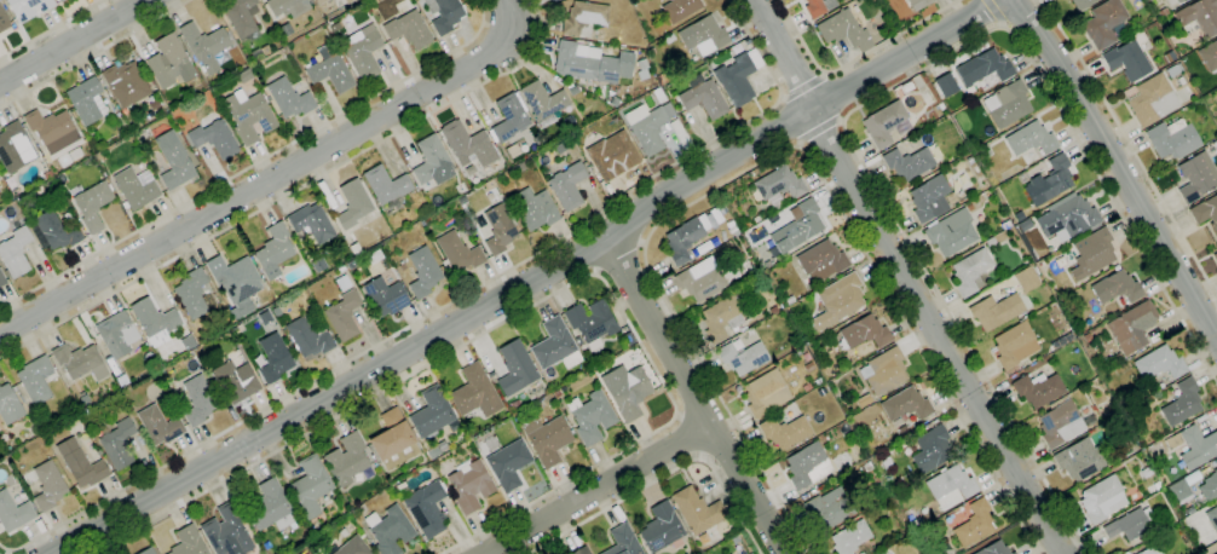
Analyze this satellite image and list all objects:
building: (58, 0)
building: (60, 0)
building: (319, 1)
building: (348, 1)
building: (1173, 1)
building: (918, 4)
building: (1080, 4)
building: (28, 7)
building: (288, 7)
building: (818, 7)
building: (680, 8)
road: (993, 12)
building: (1161, 12)
building: (444, 15)
building: (1155, 17)
building: (1198, 17)
building: (242, 18)
building: (584, 18)
building: (2, 19)
building: (1104, 23)
road: (51, 28)
building: (408, 29)
building: (843, 29)
building: (703, 35)
building: (669, 39)
road: (79, 42)
building: (204, 45)
building: (266, 50)
building: (651, 51)
building: (363, 52)
road: (94, 53)
building: (256, 54)
building: (1169, 56)
building: (1209, 56)
building: (693, 58)
road: (854, 59)
building: (1127, 60)
building: (169, 62)
building: (590, 63)
building: (642, 64)
building: (984, 67)
building: (1173, 70)
building: (330, 73)
building: (246, 76)
building: (661, 79)
building: (736, 80)
building: (125, 83)
building: (946, 85)
building: (1189, 88)
building: (572, 90)
road: (883, 92)
building: (658, 96)
building: (289, 98)
building: (703, 98)
building: (1150, 100)
building: (87, 102)
building: (543, 102)
building: (613, 102)
building: (154, 104)
building: (1007, 104)
building: (73, 115)
building: (249, 116)
building: (509, 117)
building: (883, 123)
building: (648, 126)
building: (54, 133)
building: (214, 139)
building: (1031, 139)
building: (1172, 139)
building: (1215, 143)
building: (467, 144)
building: (15, 148)
road: (1130, 148)
building: (559, 149)
building: (982, 151)
building: (612, 155)
road: (771, 157)
building: (174, 161)
building: (432, 161)
road: (255, 163)
building: (909, 163)
road: (1118, 167)
building: (47, 175)
building: (1196, 177)
road: (272, 181)
building: (1051, 181)
building: (779, 184)
building: (567, 185)
building: (135, 187)
building: (387, 189)
building: (461, 189)
road: (292, 191)
building: (4, 192)
building: (36, 192)
building: (951, 197)
building: (929, 198)
building: (352, 203)
building: (93, 206)
building: (533, 209)
building: (1206, 212)
building: (27, 215)
building: (1068, 218)
building: (312, 223)
building: (1025, 224)
building: (748, 225)
building: (1004, 225)
building: (500, 229)
building: (797, 229)
building: (57, 231)
building: (733, 231)
building: (951, 232)
building: (682, 240)
building: (990, 242)
building: (354, 249)
building: (273, 252)
building: (458, 252)
building: (15, 253)
building: (1092, 253)
road: (619, 256)
building: (1215, 256)
building: (820, 260)
building: (351, 264)
building: (318, 265)
building: (400, 266)
building: (423, 272)
building: (970, 272)
building: (704, 276)
building: (235, 278)
road: (904, 278)
building: (1027, 278)
building: (1, 281)
road: (529, 282)
building: (341, 283)
building: (1115, 288)
building: (194, 294)
building: (385, 296)
building: (841, 296)
road: (536, 304)
road: (443, 307)
building: (241, 308)
building: (773, 310)
building: (996, 311)
building: (342, 316)
building: (721, 318)
building: (155, 322)
building: (592, 323)
building: (1132, 327)
building: (236, 329)
building: (861, 333)
building: (117, 334)
building: (1088, 337)
building: (1153, 337)
building: (307, 339)
building: (1062, 340)
building: (578, 341)
building: (1014, 345)
building: (555, 346)
building: (796, 353)
building: (742, 357)
building: (806, 357)
building: (273, 358)
building: (79, 362)
building: (1159, 363)
building: (515, 368)
building: (884, 371)
building: (122, 380)
building: (35, 381)
building: (236, 381)
building: (818, 381)
building: (792, 383)
building: (806, 387)
building: (1038, 389)
building: (627, 391)
building: (475, 392)
building: (559, 392)
building: (821, 392)
building: (765, 393)
road: (688, 396)
building: (83, 398)
building: (198, 400)
building: (864, 400)
building: (1182, 403)
building: (906, 404)
building: (8, 406)
building: (432, 412)
building: (590, 416)
building: (1062, 423)
building: (158, 425)
building: (785, 432)
building: (48, 437)
road: (690, 437)
building: (546, 439)
building: (393, 440)
building: (117, 444)
building: (1194, 446)
building: (933, 450)
building: (346, 458)
building: (1080, 460)
building: (508, 463)
building: (81, 464)
building: (807, 466)
building: (866, 467)
building: (1147, 472)
road: (661, 474)
building: (48, 485)
building: (446, 485)
building: (469, 485)
building: (951, 486)
building: (310, 487)
building: (881, 487)
building: (1183, 487)
building: (1210, 487)
road: (594, 491)
building: (325, 498)
building: (1102, 498)
building: (269, 507)
building: (426, 509)
building: (831, 509)
building: (697, 510)
building: (13, 513)
building: (910, 517)
building: (1212, 518)
building: (917, 524)
building: (974, 524)
building: (1131, 524)
building: (661, 527)
building: (390, 530)
building: (227, 531)
building: (342, 532)
building: (367, 537)
building: (850, 537)
building: (734, 539)
building: (623, 541)
building: (188, 542)
building: (351, 547)
building: (993, 549)
building: (582, 550)
building: (1148, 550)
building: (148, 552)
road: (6, 553)
road: (7, 553)
building: (750, 553)
building: (1014, 553)
building: (1216, 553)

